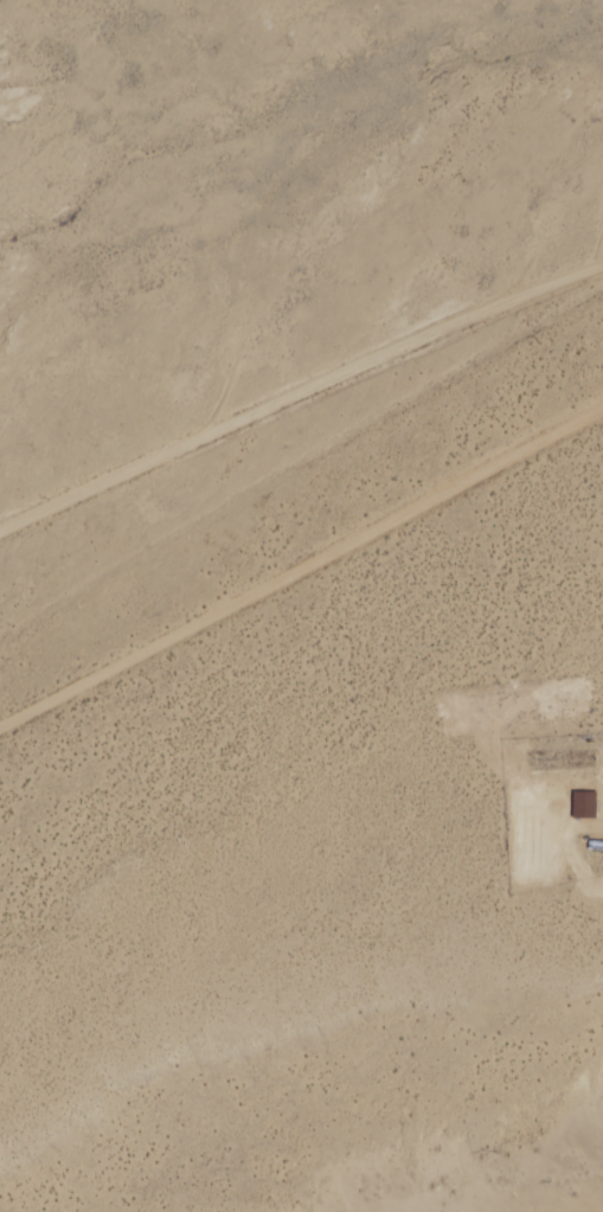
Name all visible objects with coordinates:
road: (297, 384)

